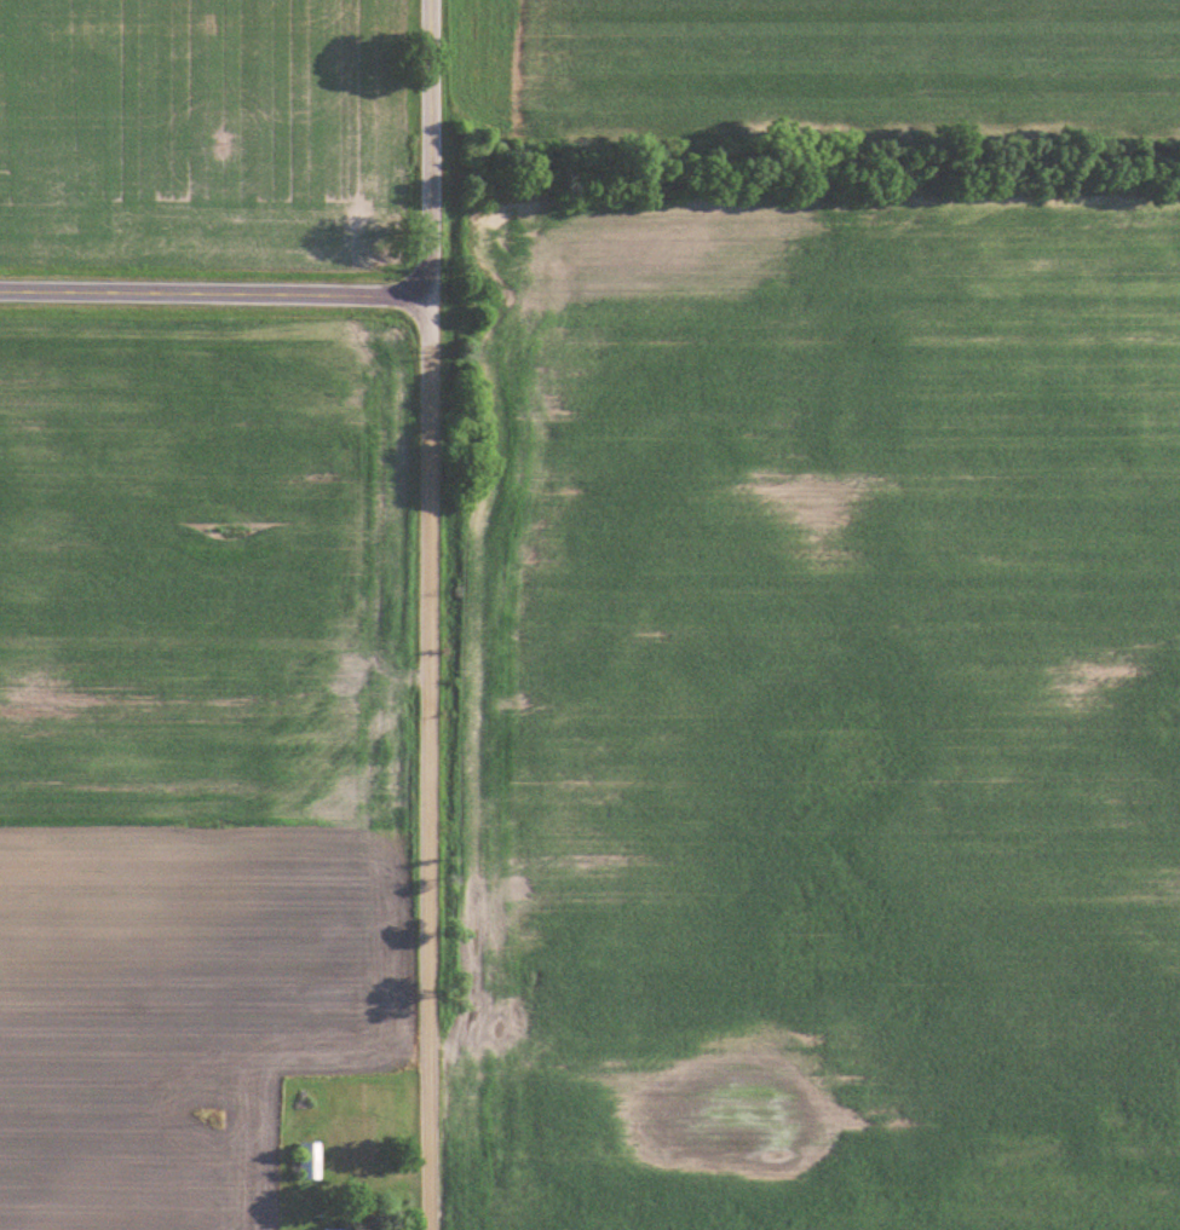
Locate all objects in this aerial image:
road: (431, 148)
road: (215, 293)
road: (430, 762)
building: (311, 1159)
building: (336, 1229)

